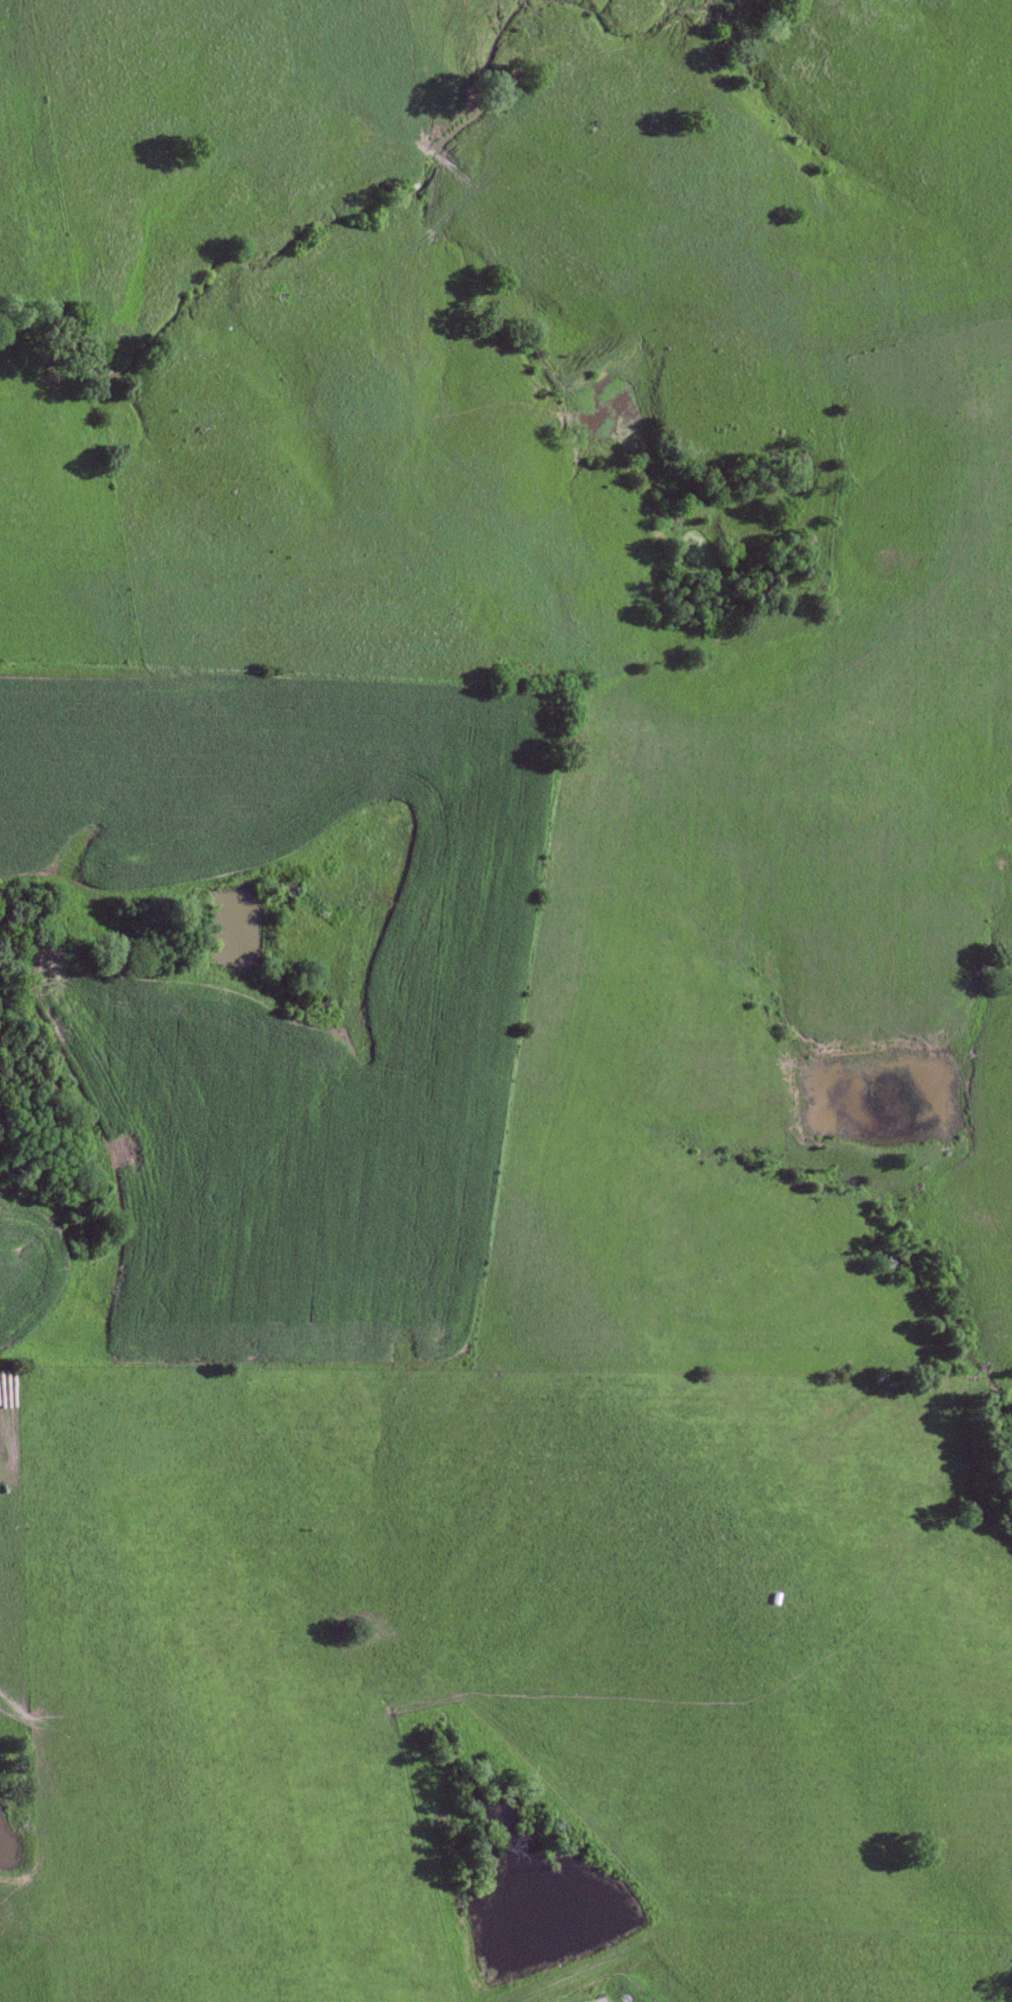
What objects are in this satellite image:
road: (986, 1188)

